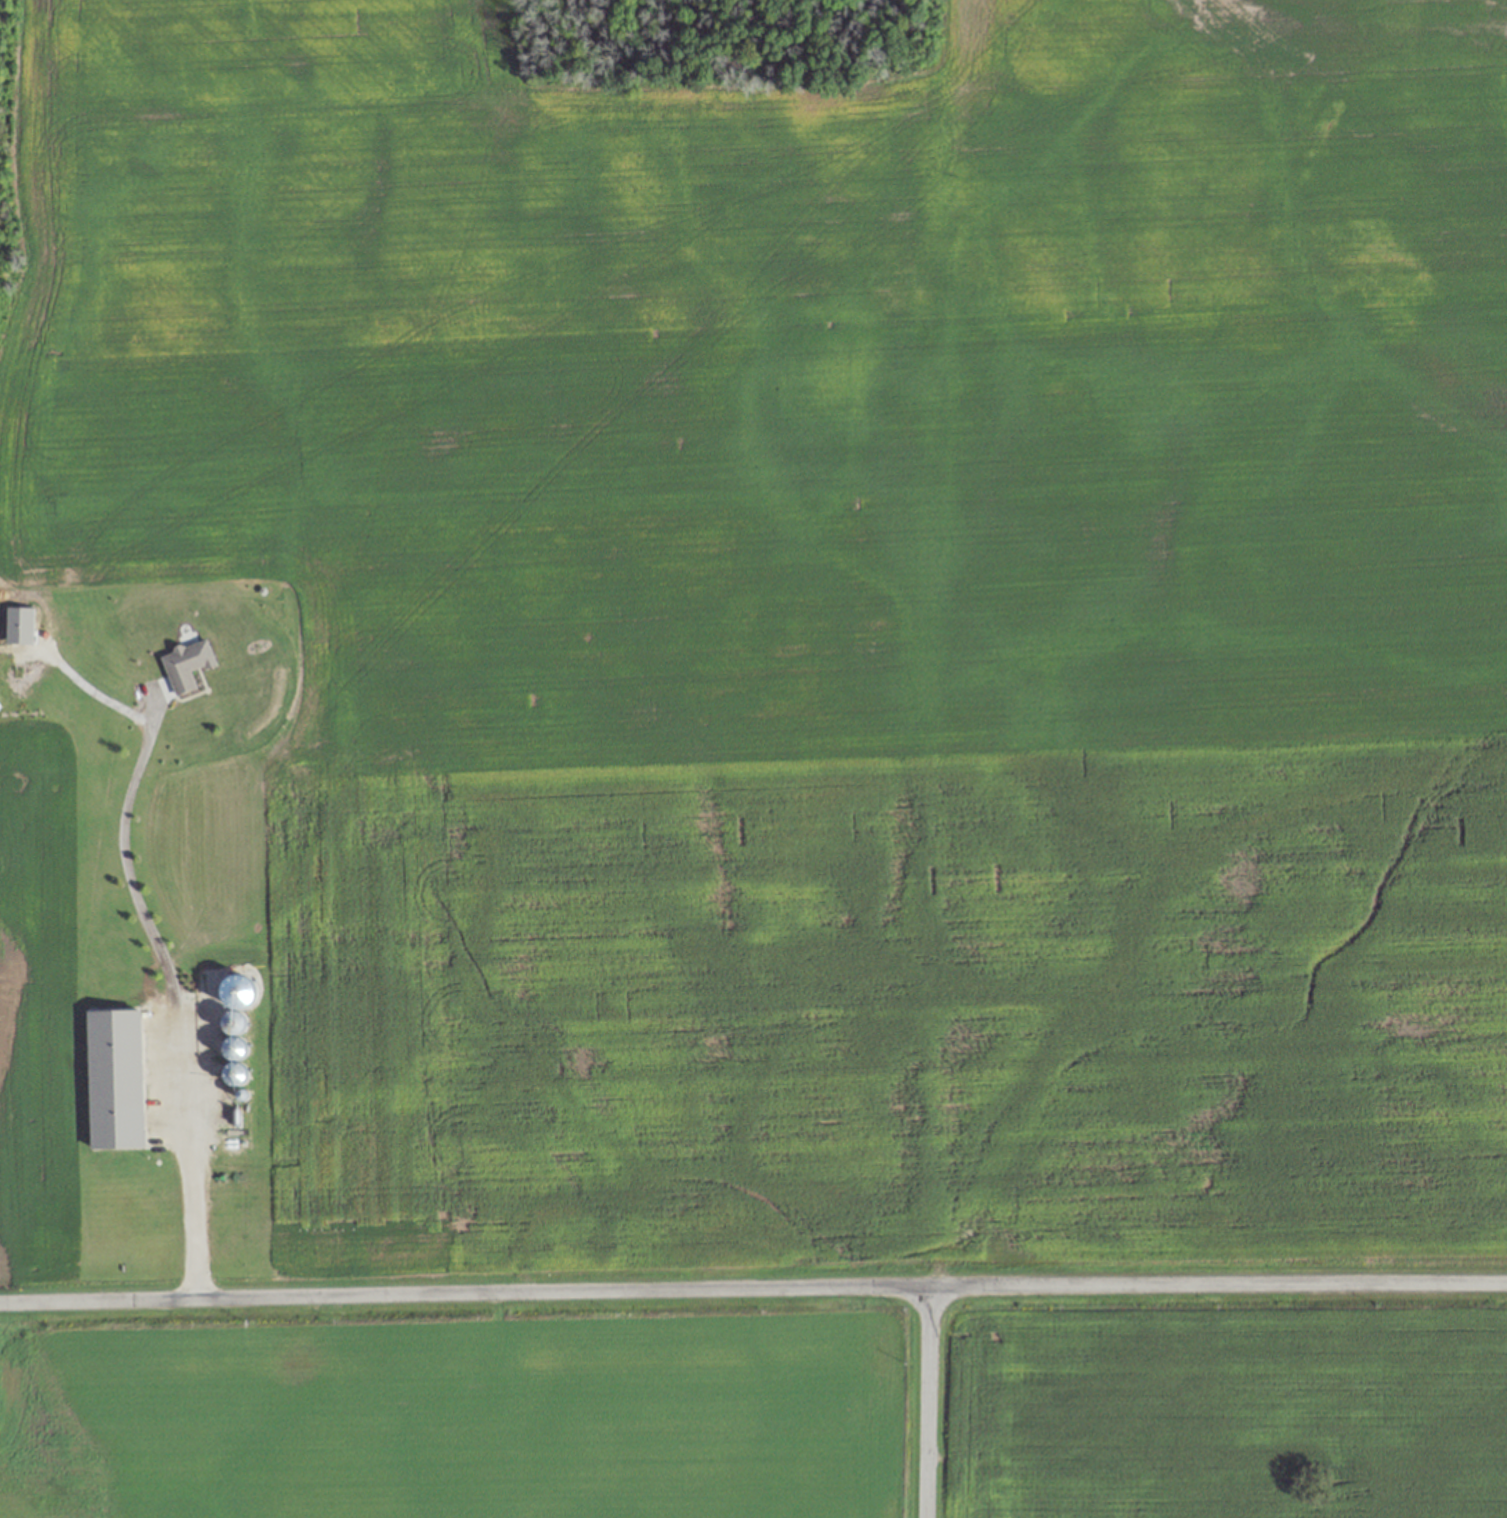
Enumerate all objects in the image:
road: (126, 866)
road: (189, 1157)
road: (753, 1286)
road: (925, 1401)
crop: (1221, 1404)

